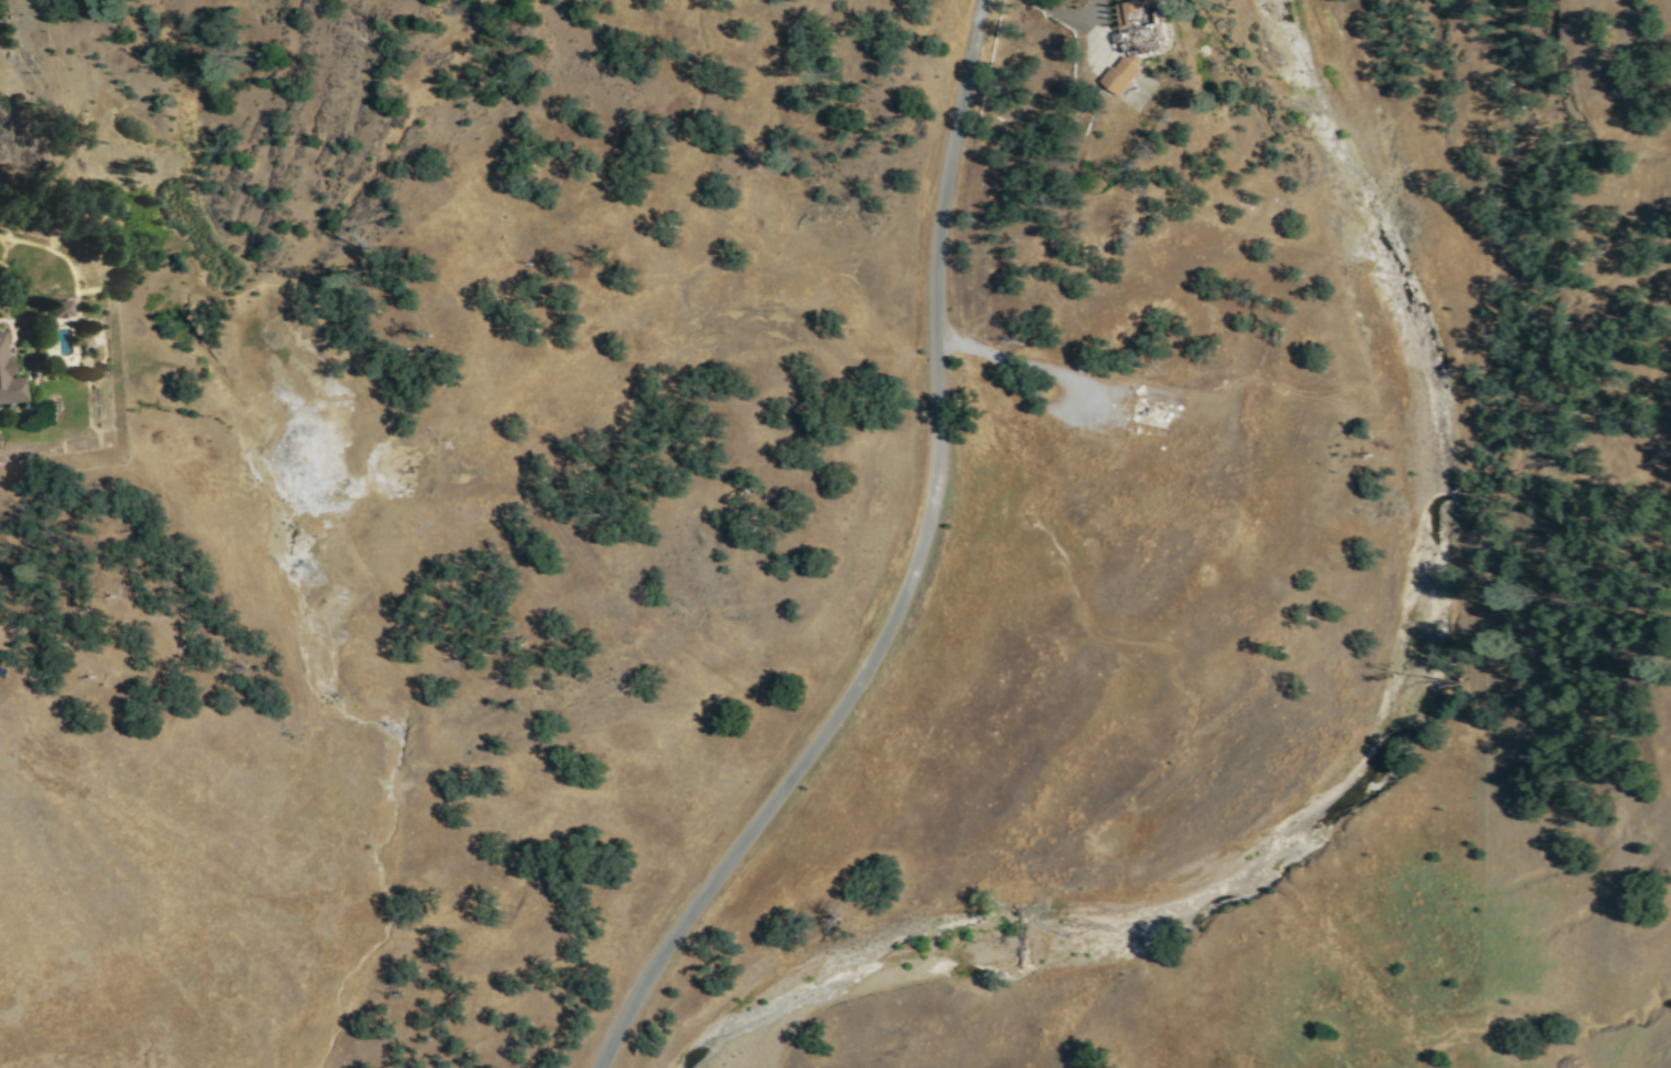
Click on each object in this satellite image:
road: (1068, 14)
building: (1142, 23)
building: (1121, 73)
building: (60, 307)
building: (9, 377)
road: (1083, 387)
road: (916, 574)

